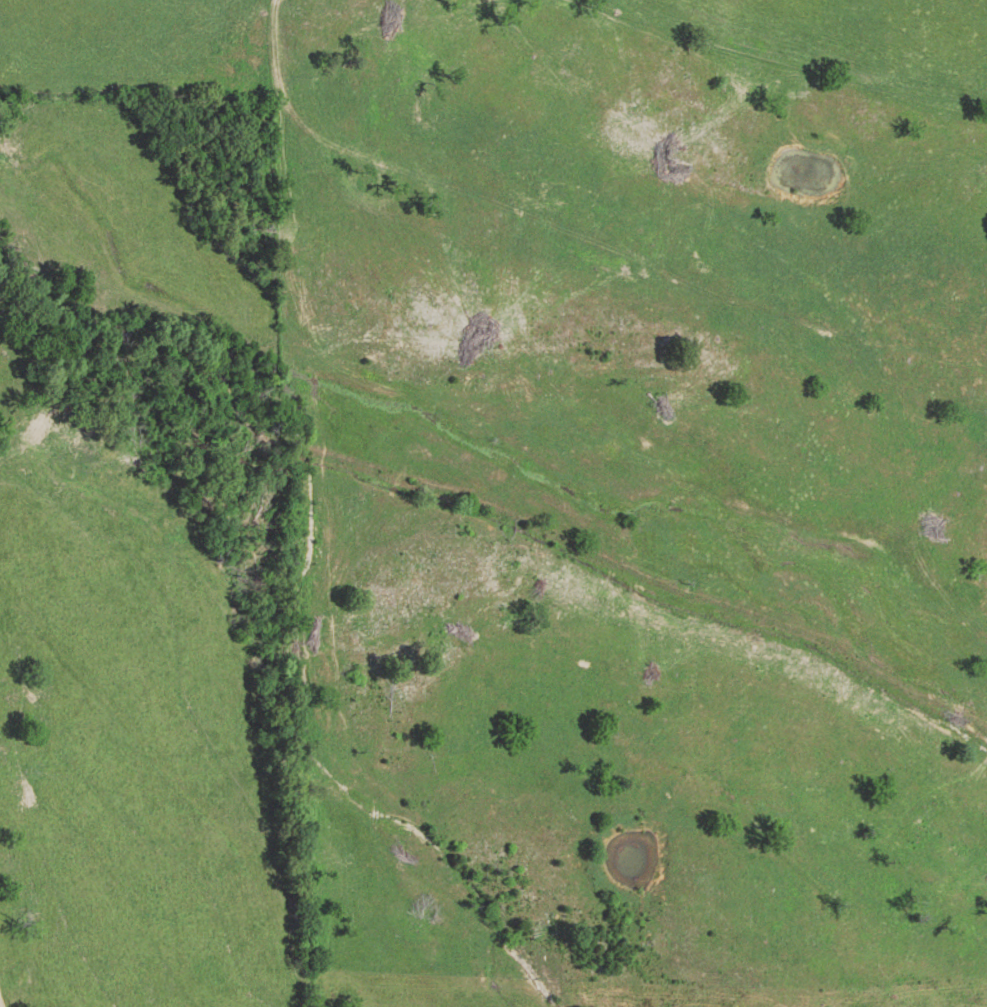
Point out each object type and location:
road: (9, 931)

